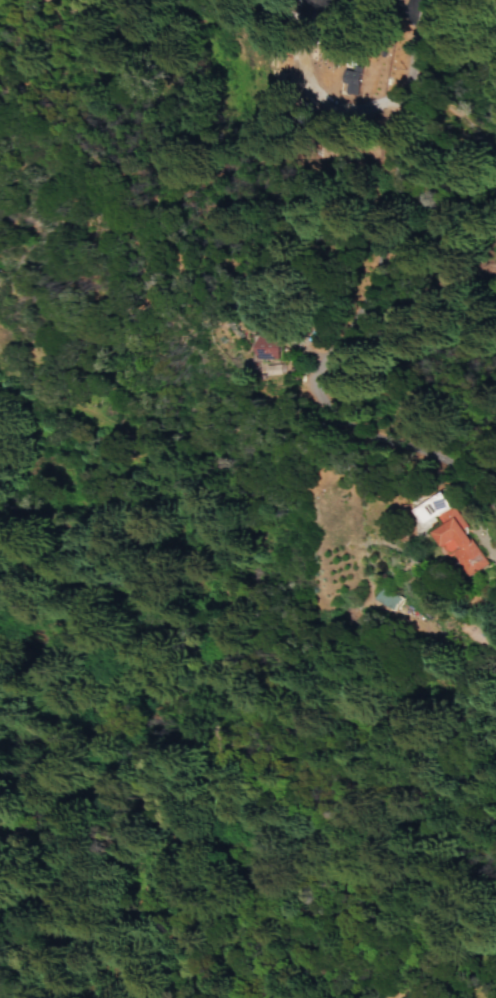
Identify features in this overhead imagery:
road: (44, 31)
building: (350, 77)
road: (347, 310)
building: (268, 347)
crop: (363, 433)
building: (451, 537)
building: (387, 597)
road: (244, 644)

